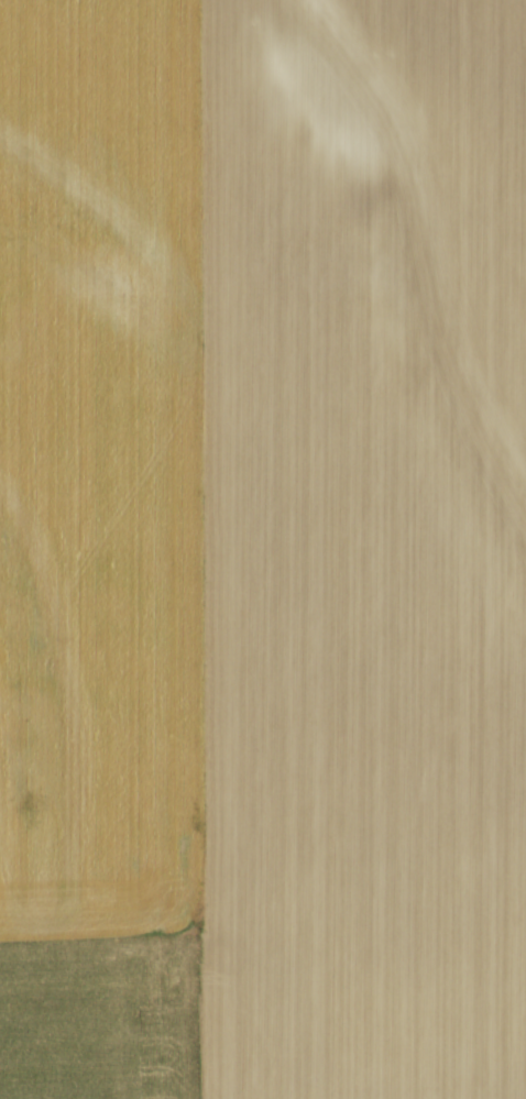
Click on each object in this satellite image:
crop: (263, 549)

